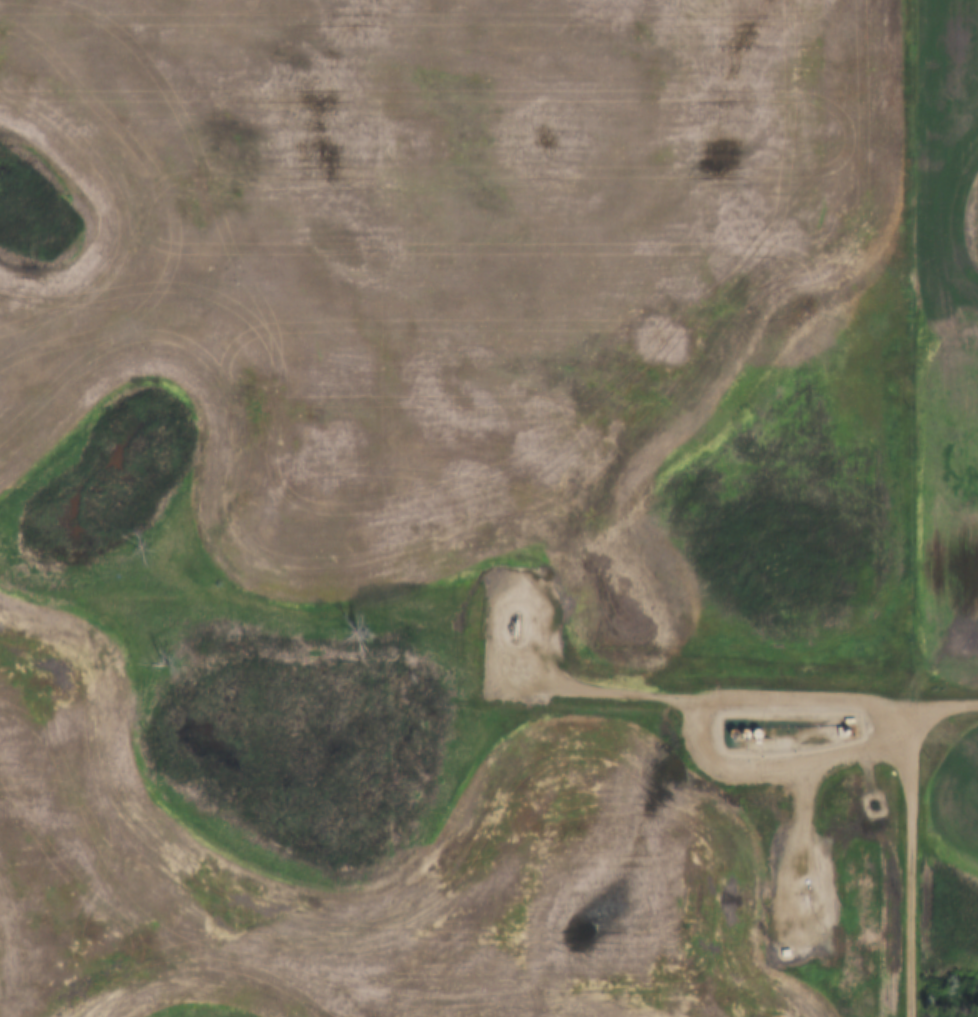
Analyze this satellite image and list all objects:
road: (735, 697)
road: (802, 813)
road: (910, 861)

